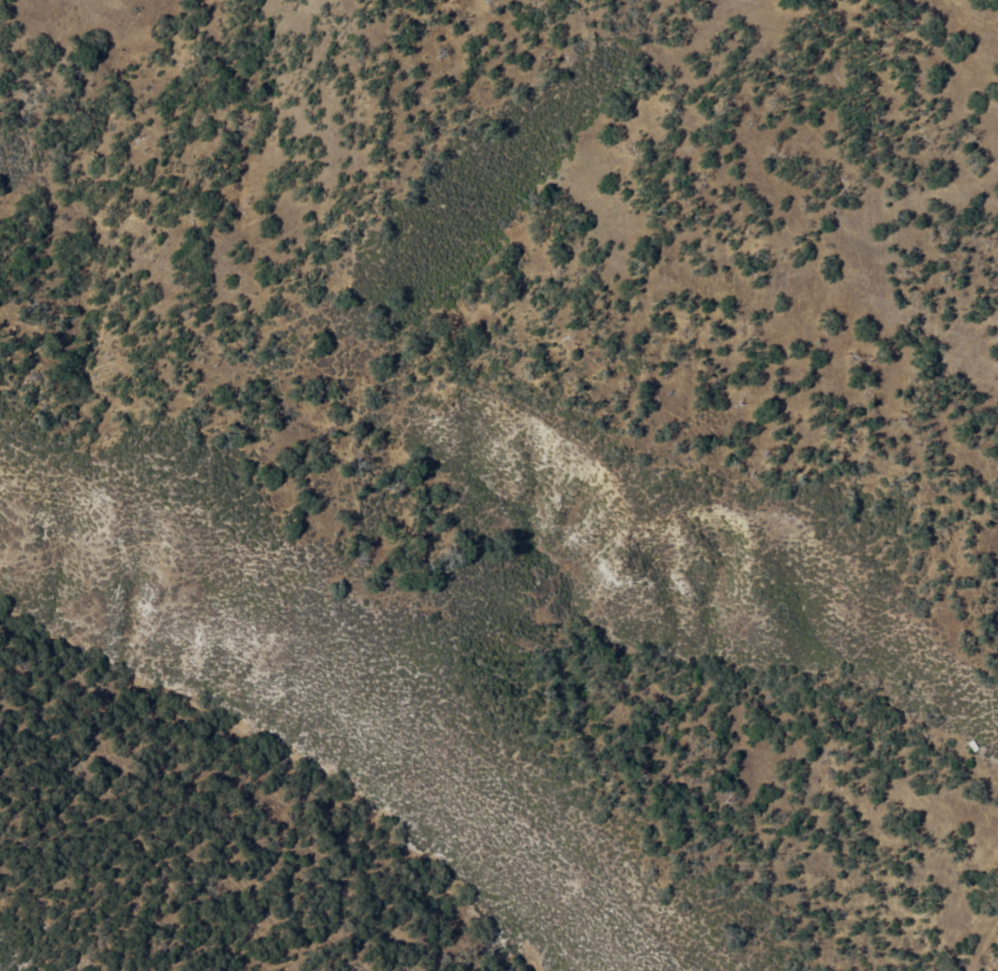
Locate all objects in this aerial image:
road: (985, 944)

